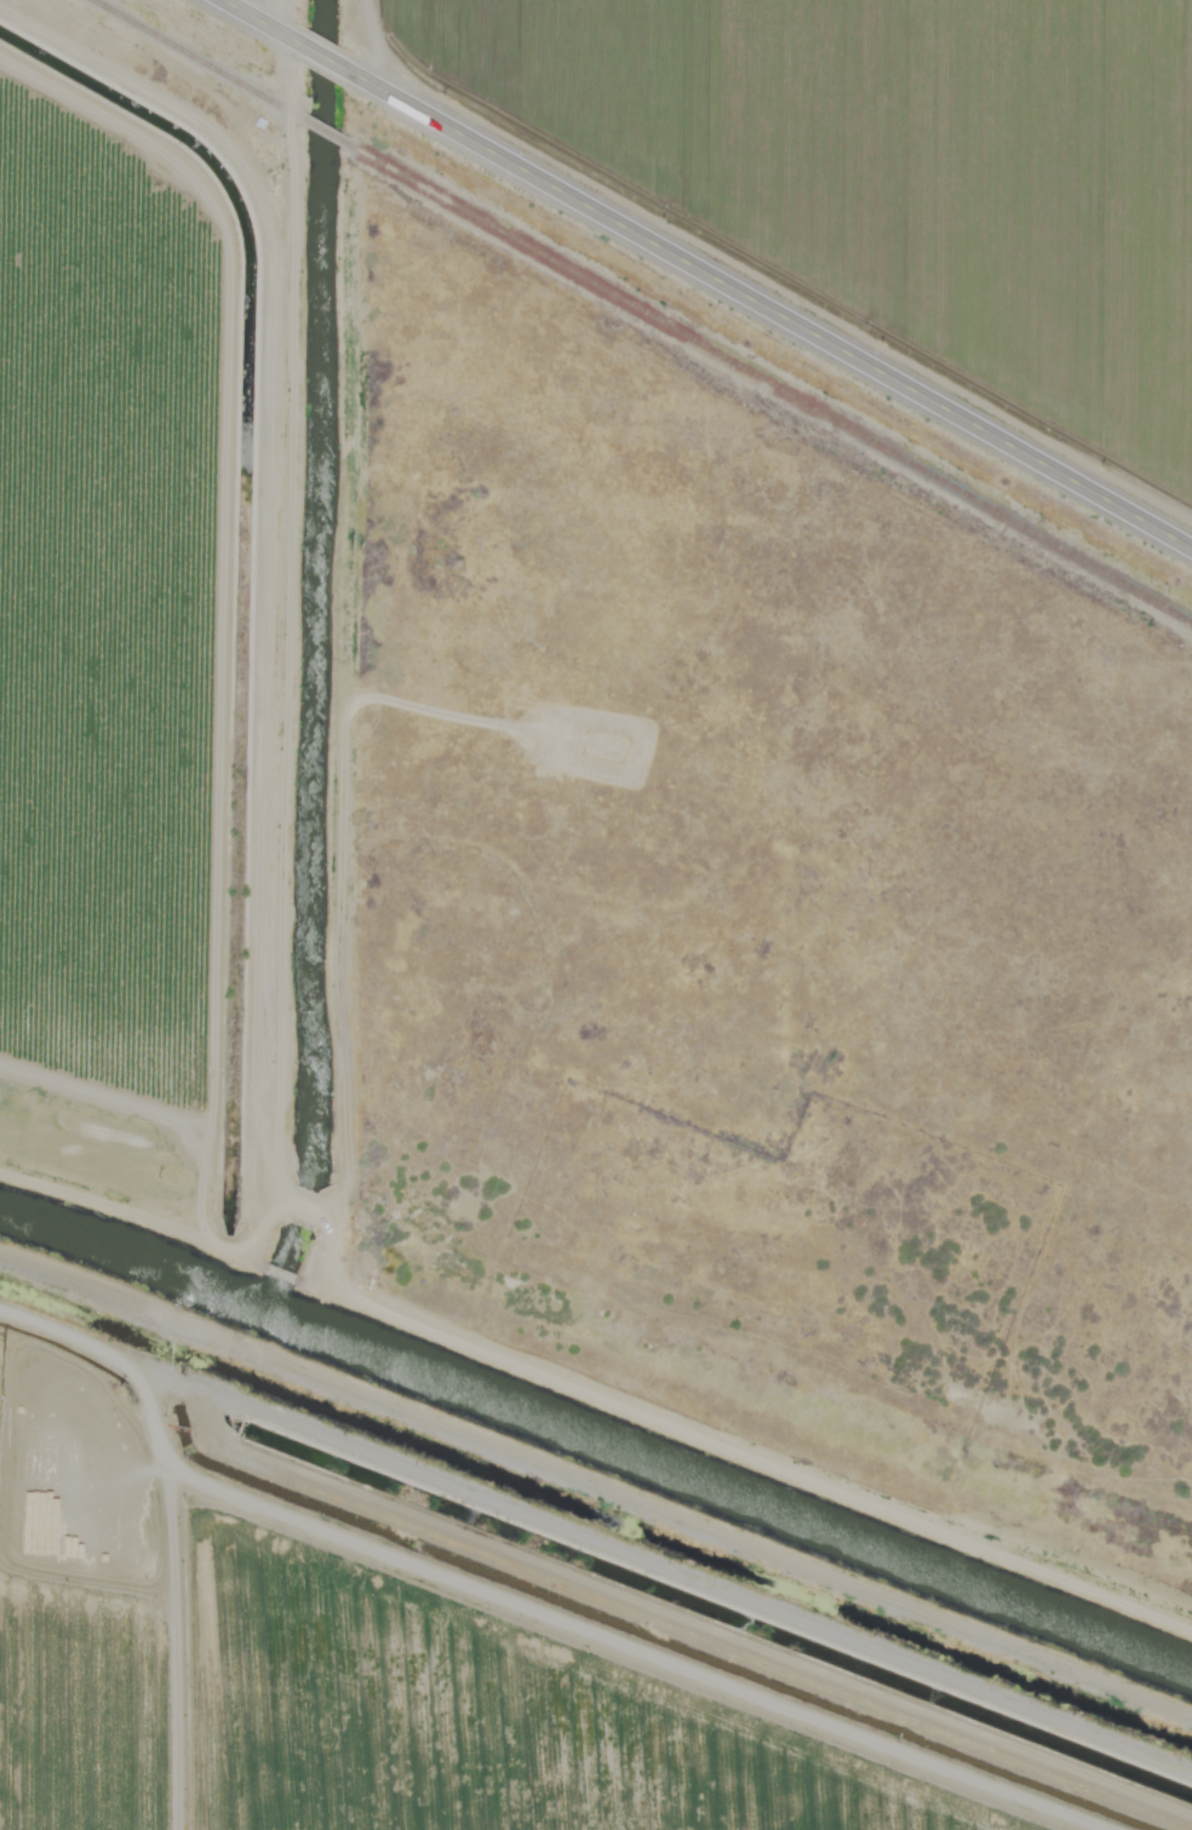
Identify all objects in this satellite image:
road: (254, 22)
road: (365, 41)
railway: (191, 58)
road: (323, 61)
railway: (320, 131)
crop: (902, 172)
road: (772, 311)
railway: (768, 384)
crop: (105, 596)
road: (591, 1379)
road: (598, 1547)
road: (166, 1610)
crop: (376, 1676)

